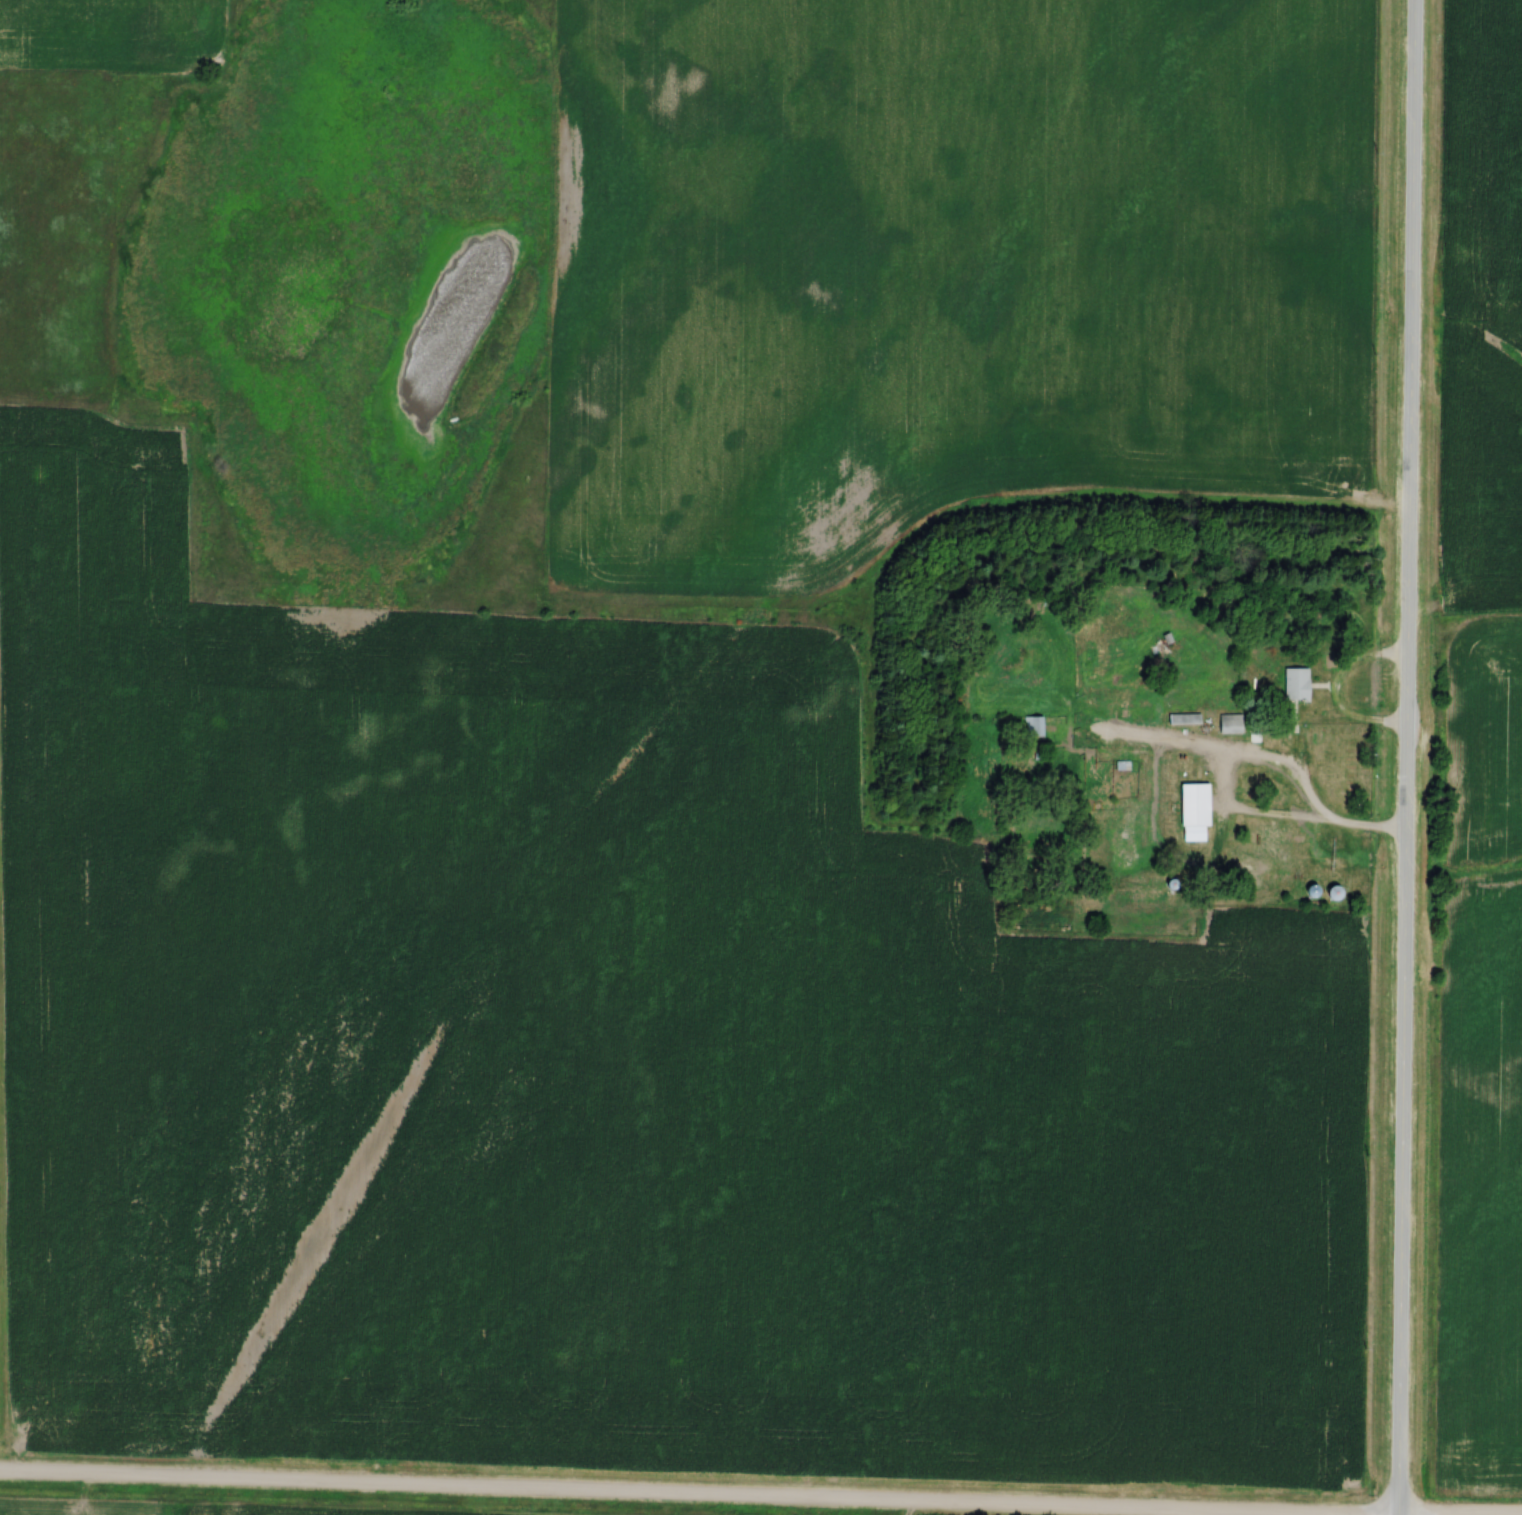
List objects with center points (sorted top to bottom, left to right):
building: (1295, 684)
road: (1334, 692)
building: (1228, 722)
building: (1034, 725)
road: (1405, 757)
building: (1193, 804)
road: (620, 1494)
road: (1152, 1513)

